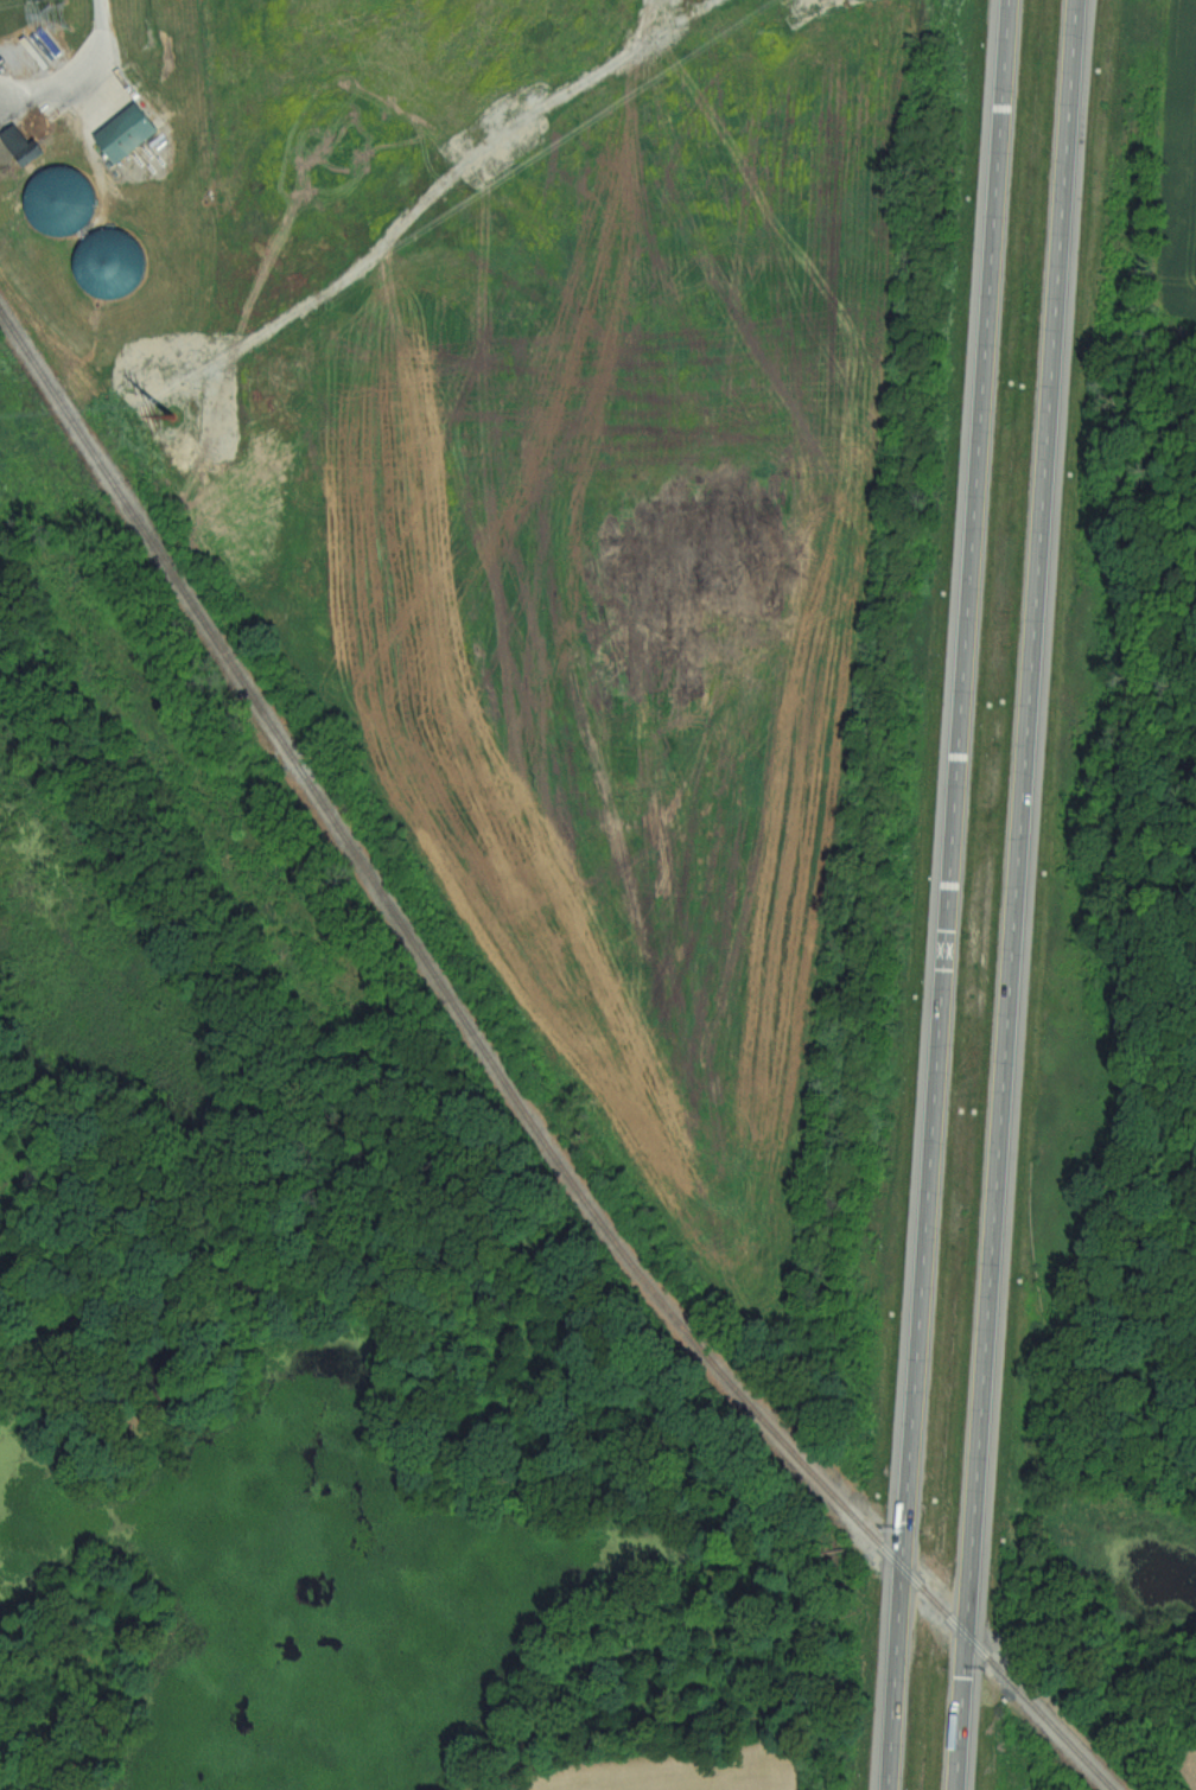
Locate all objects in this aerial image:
power tower: (63, 13)
road: (79, 78)
power tower: (170, 414)
road: (954, 783)
road: (1018, 816)
railway: (426, 964)
railway: (934, 1600)
road: (895, 1677)
road: (959, 1712)
railway: (1038, 1712)
road: (462, 1788)

